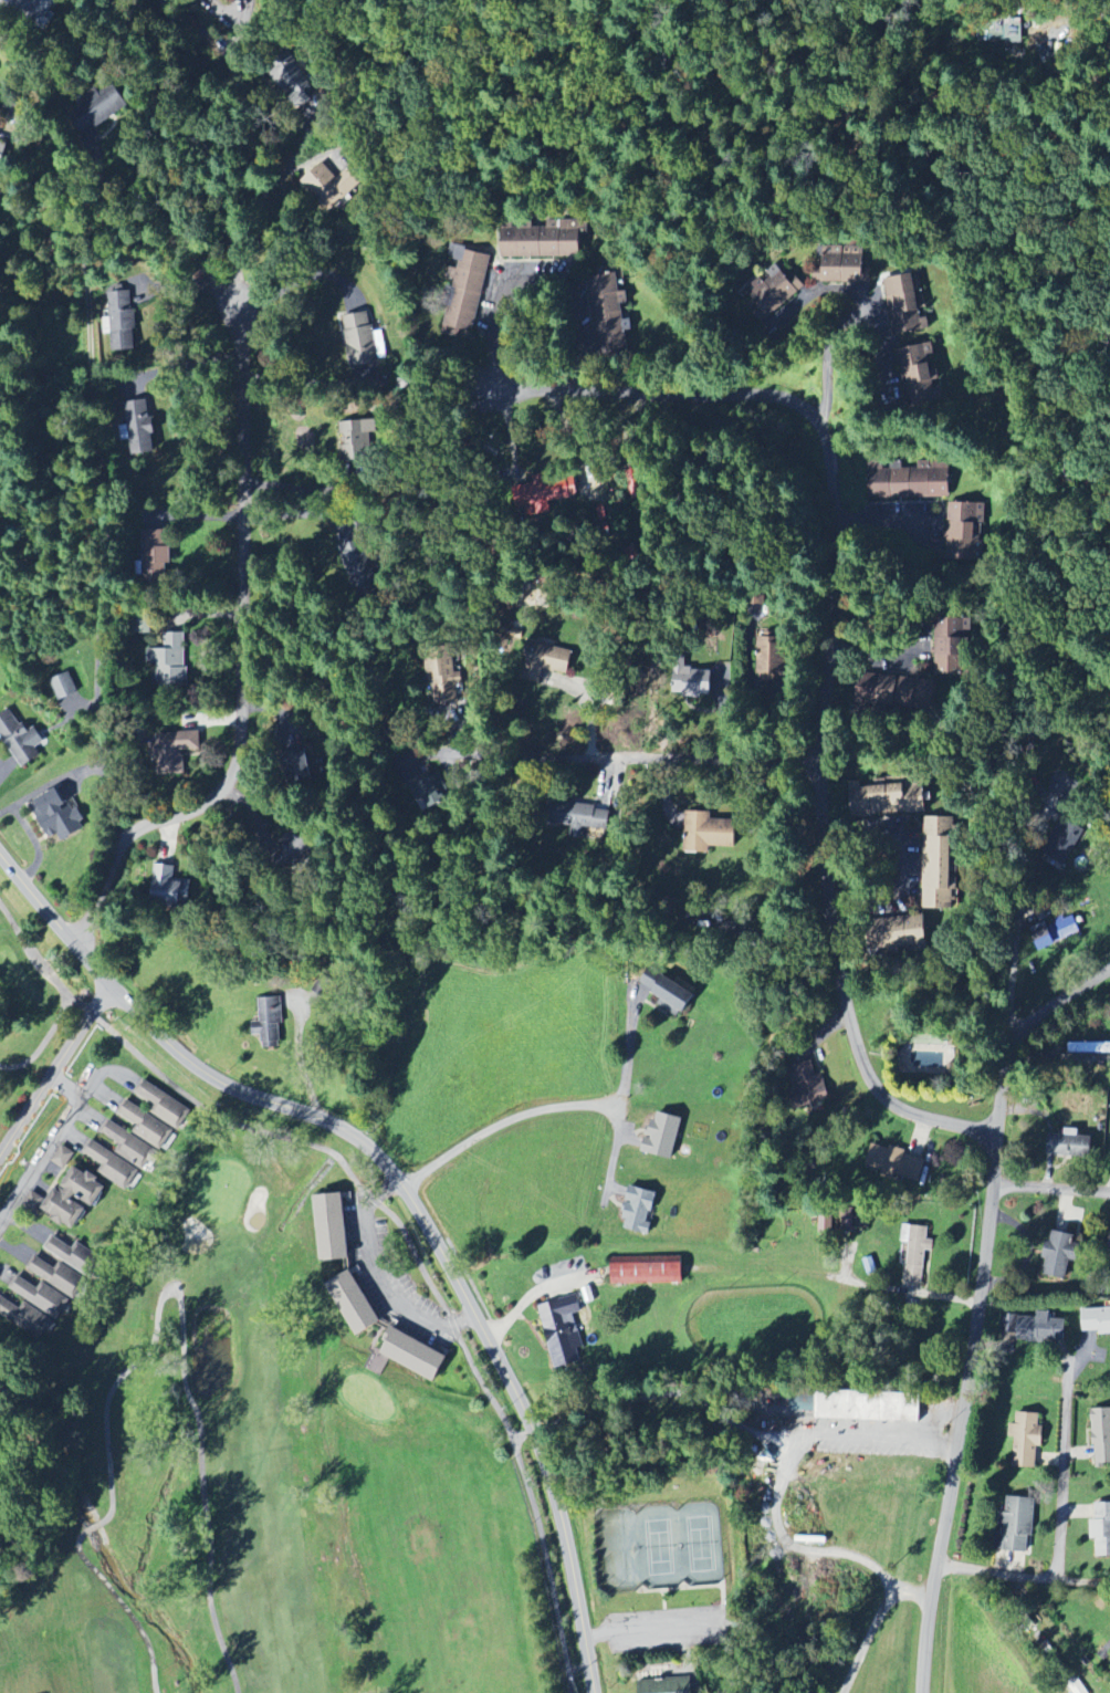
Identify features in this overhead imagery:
building: (34, 9)
road: (1081, 28)
building: (1006, 32)
building: (289, 77)
building: (104, 105)
building: (2, 153)
road: (260, 155)
road: (281, 179)
building: (331, 186)
building: (541, 241)
road: (135, 242)
road: (542, 263)
building: (844, 263)
road: (832, 278)
road: (297, 279)
road: (192, 280)
building: (774, 289)
building: (601, 290)
building: (465, 294)
building: (907, 301)
building: (122, 322)
building: (360, 341)
road: (881, 352)
road: (827, 362)
road: (182, 365)
building: (921, 372)
road: (303, 382)
building: (140, 433)
building: (357, 441)
road: (102, 466)
building: (908, 481)
building: (540, 497)
road: (905, 506)
building: (962, 527)
building: (155, 556)
road: (829, 638)
road: (899, 651)
building: (952, 657)
building: (773, 660)
road: (243, 663)
building: (544, 663)
building: (171, 665)
building: (443, 681)
building: (692, 683)
building: (64, 687)
building: (905, 693)
building: (19, 741)
building: (176, 752)
road: (593, 762)
building: (299, 767)
building: (427, 792)
building: (889, 798)
building: (57, 817)
building: (588, 821)
building: (709, 834)
road: (918, 856)
building: (939, 863)
building: (170, 886)
road: (1025, 889)
building: (903, 933)
building: (1054, 933)
building: (668, 992)
building: (269, 1023)
building: (1089, 1047)
road: (614, 1055)
road: (302, 1062)
road: (56, 1075)
building: (807, 1078)
building: (164, 1106)
building: (147, 1126)
road: (494, 1128)
building: (663, 1135)
road: (46, 1146)
building: (1070, 1146)
building: (130, 1147)
building: (63, 1158)
building: (896, 1163)
building: (112, 1166)
road: (1053, 1190)
road: (408, 1192)
building: (74, 1199)
building: (32, 1202)
building: (639, 1210)
building: (855, 1220)
building: (826, 1221)
building: (332, 1226)
building: (1109, 1247)
building: (1061, 1254)
building: (917, 1255)
building: (75, 1257)
road: (379, 1269)
building: (647, 1269)
building: (60, 1278)
building: (41, 1297)
building: (354, 1303)
road: (978, 1306)
building: (25, 1318)
building: (1096, 1320)
building: (1041, 1328)
building: (562, 1330)
road: (185, 1355)
building: (408, 1356)
building: (868, 1407)
road: (740, 1423)
road: (523, 1435)
building: (1101, 1435)
building: (1028, 1440)
road: (1064, 1469)
building: (0, 1471)
park: (421, 1473)
road: (533, 1501)
building: (1018, 1525)
road: (92, 1526)
building: (1101, 1529)
road: (796, 1547)
road: (1024, 1579)
road: (124, 1607)
road: (875, 1624)
road: (648, 1629)
road: (579, 1666)
building: (667, 1686)
building: (1077, 1687)

